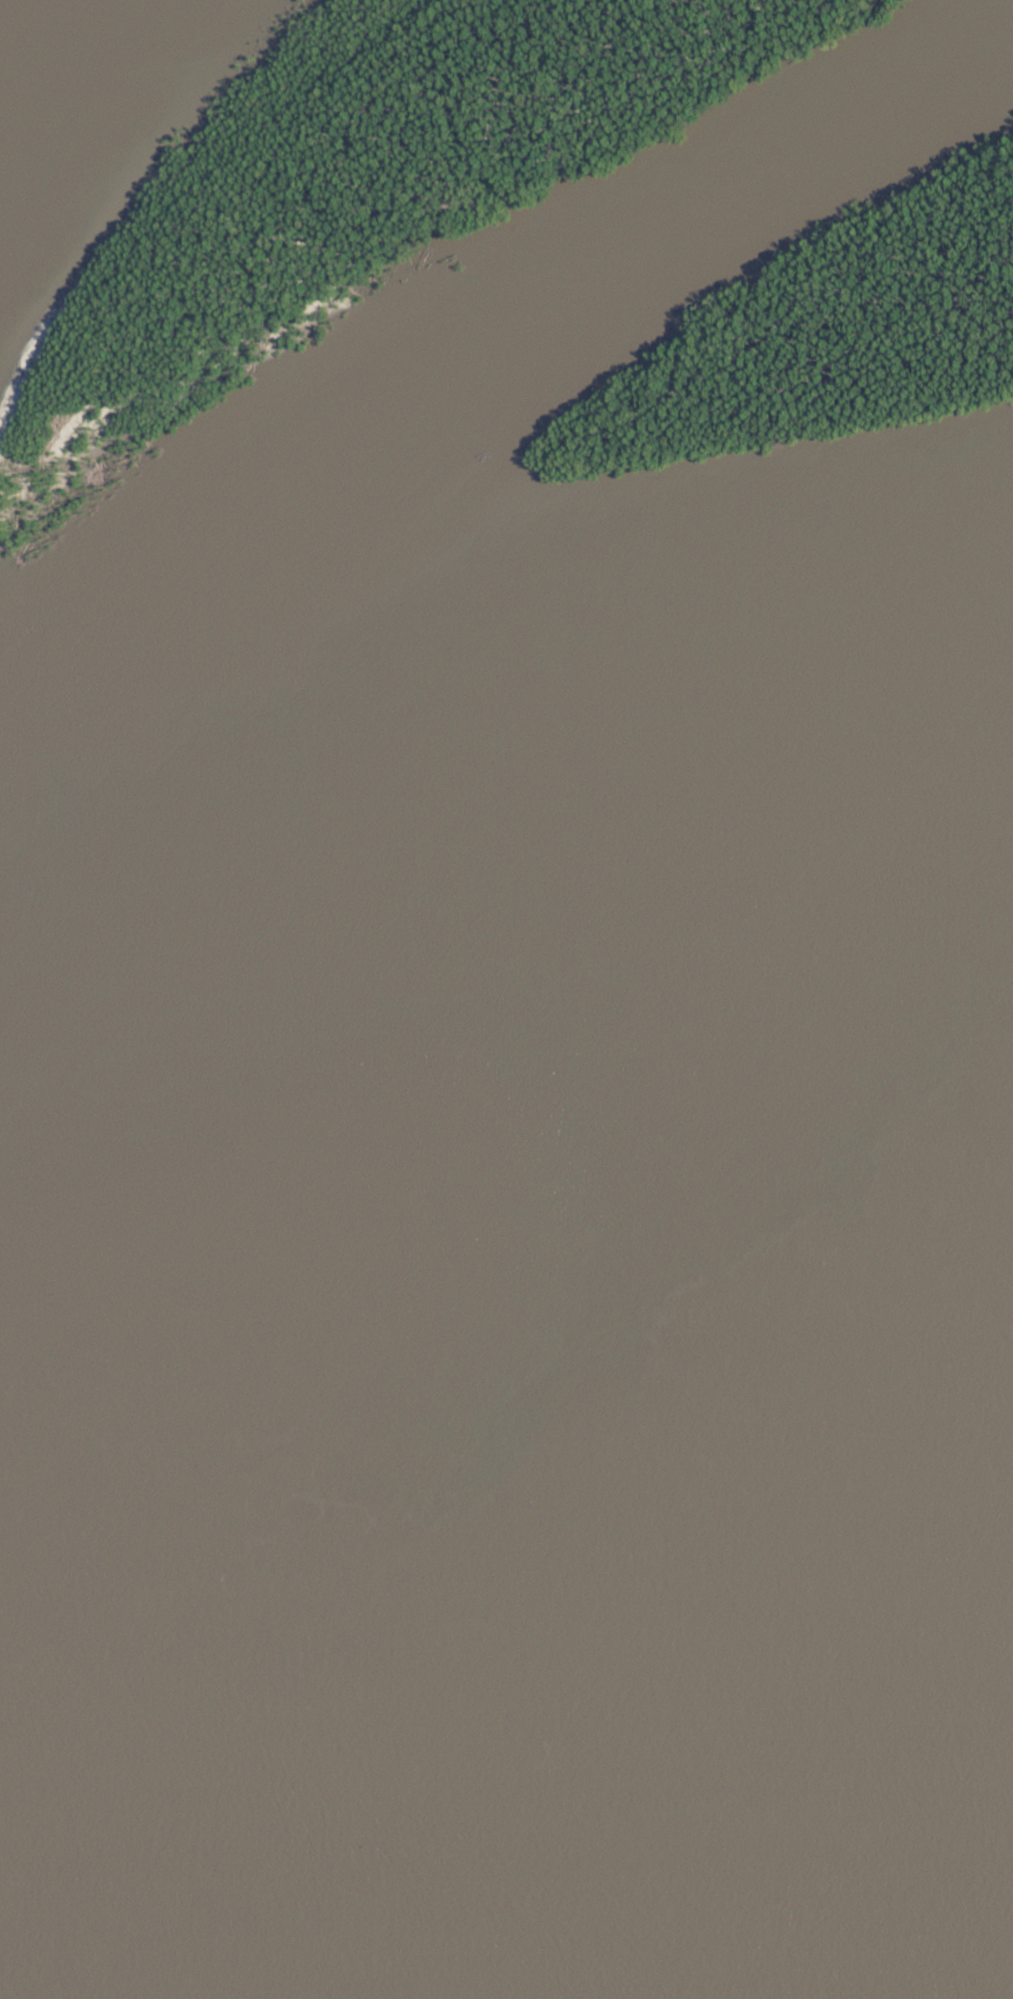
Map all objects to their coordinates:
river: (851, 1963)

